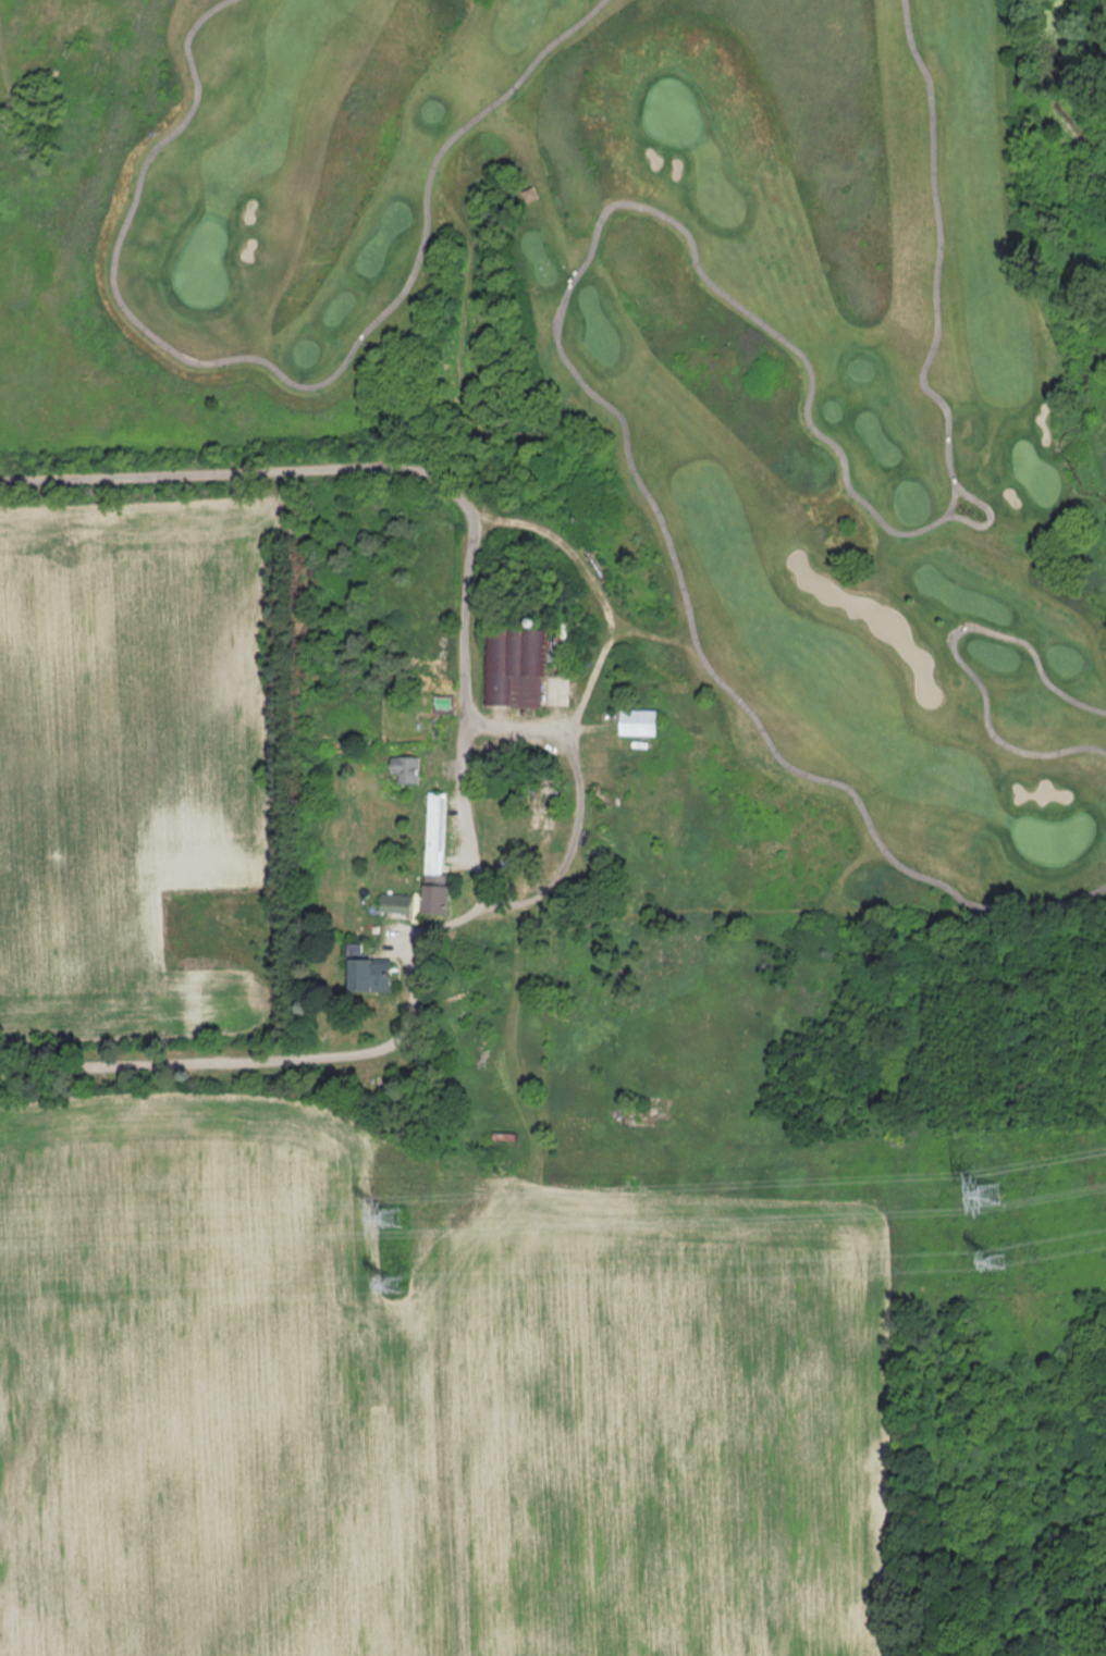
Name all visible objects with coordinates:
road: (634, 209)
park: (689, 369)
road: (279, 374)
road: (242, 472)
road: (961, 657)
building: (515, 667)
building: (638, 722)
building: (406, 769)
building: (435, 852)
road: (550, 880)
building: (395, 903)
building: (370, 975)
road: (294, 1058)
power tower: (991, 1195)
power tower: (393, 1216)
power tower: (996, 1261)
power tower: (394, 1282)

